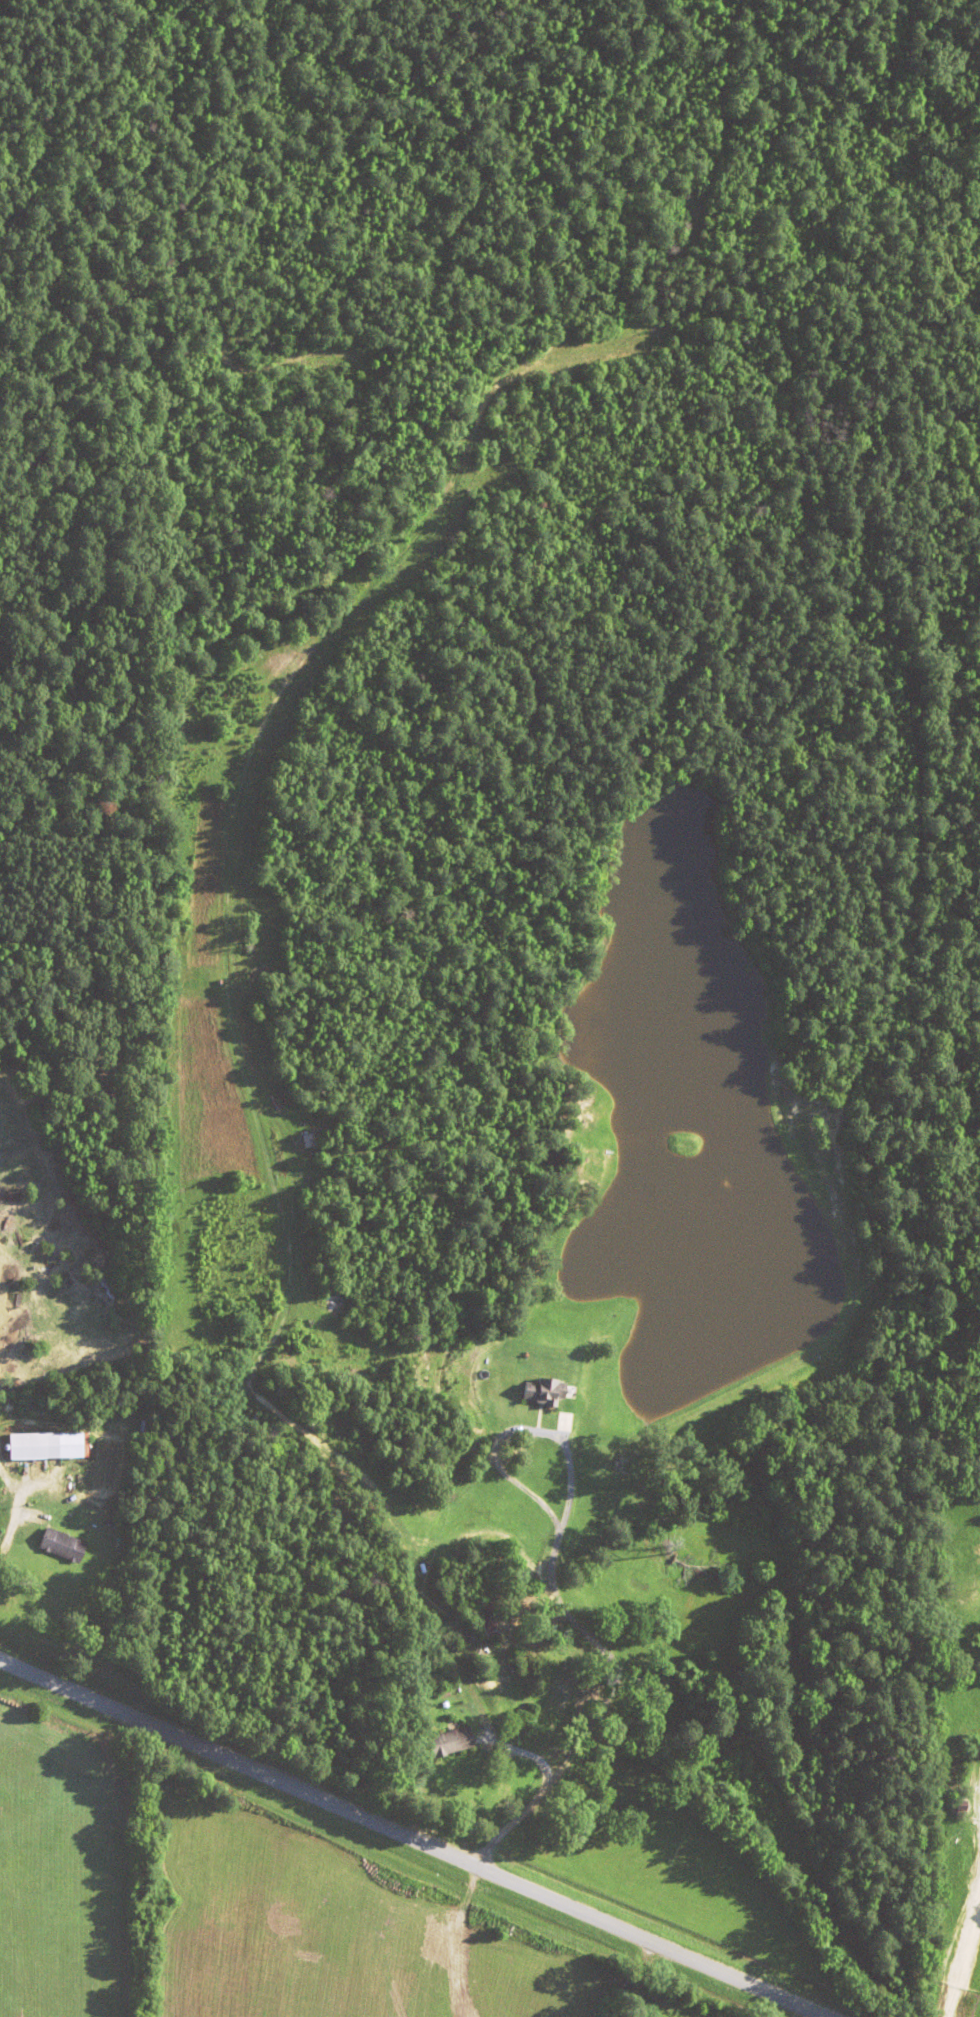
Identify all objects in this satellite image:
building: (306, 1140)
building: (543, 1388)
building: (43, 1445)
building: (60, 1542)
building: (482, 1605)
building: (449, 1739)
road: (413, 1838)

